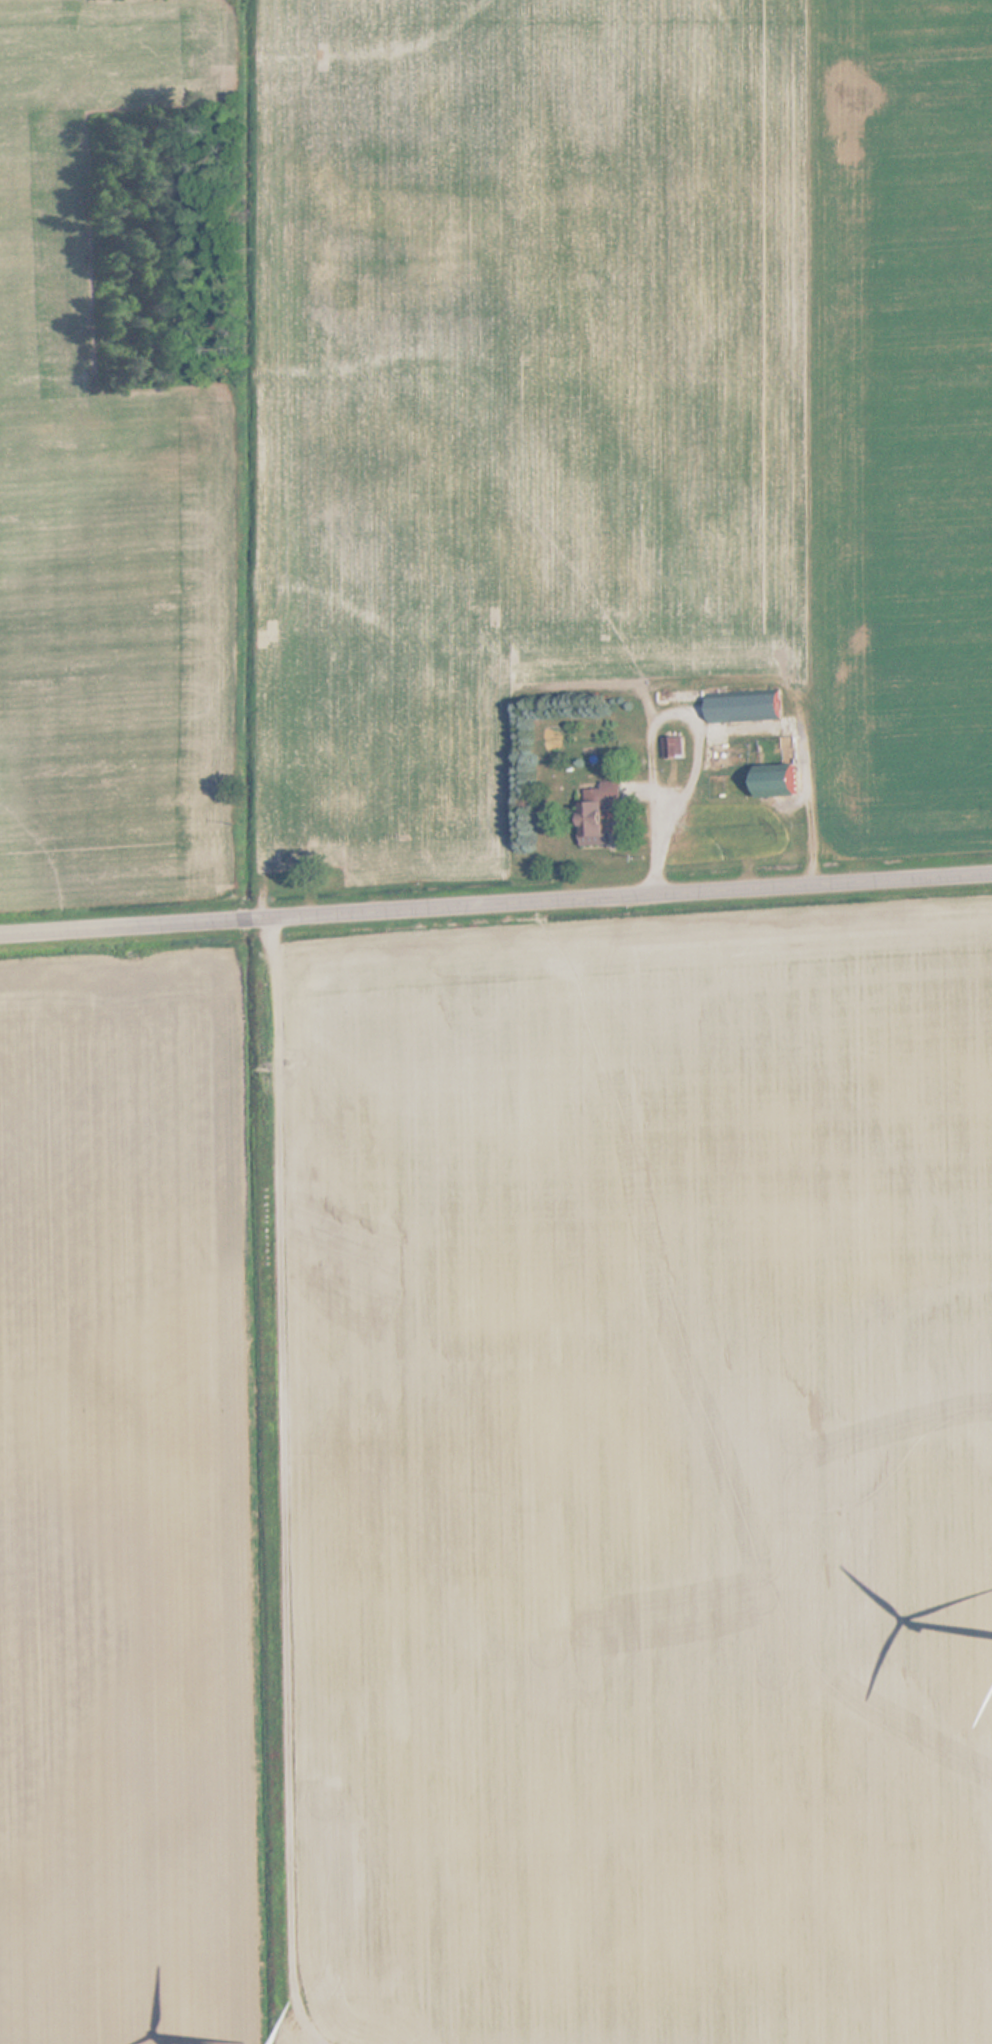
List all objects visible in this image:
building: (747, 707)
building: (675, 747)
building: (602, 812)
road: (496, 905)
road: (284, 1484)

